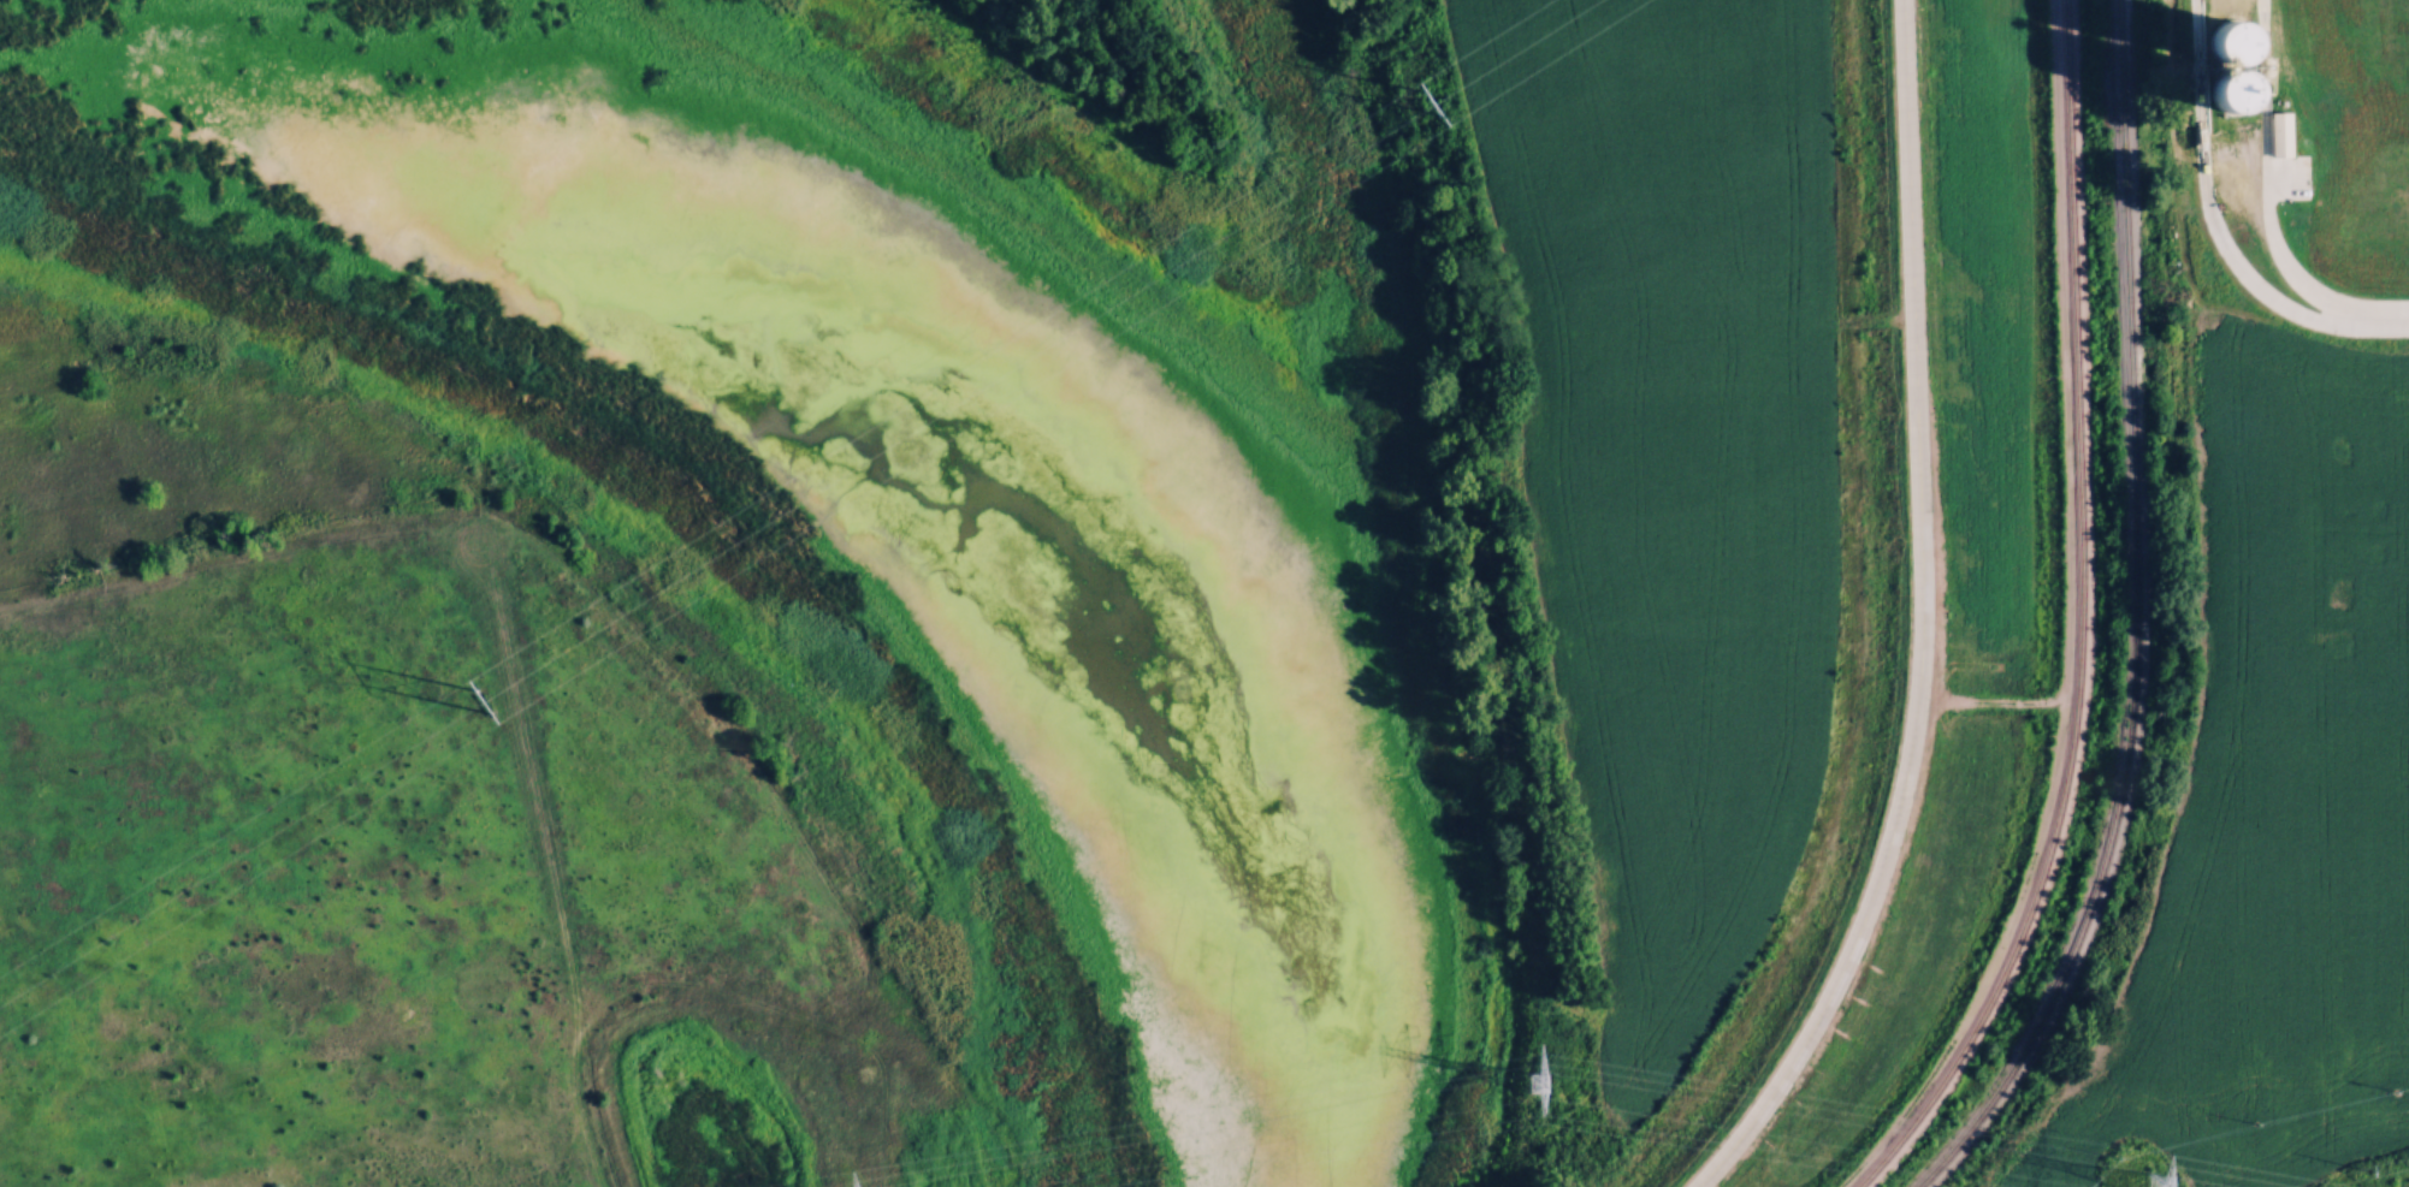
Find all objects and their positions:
power tower: (1431, 100)
road: (2266, 177)
road: (2206, 202)
road: (2380, 316)
railway: (2132, 619)
road: (1918, 621)
railway: (2078, 622)
power tower: (483, 698)
power tower: (1538, 1086)
power tower: (2118, 1152)
power tower: (2367, 1167)
power tower: (2170, 1183)

